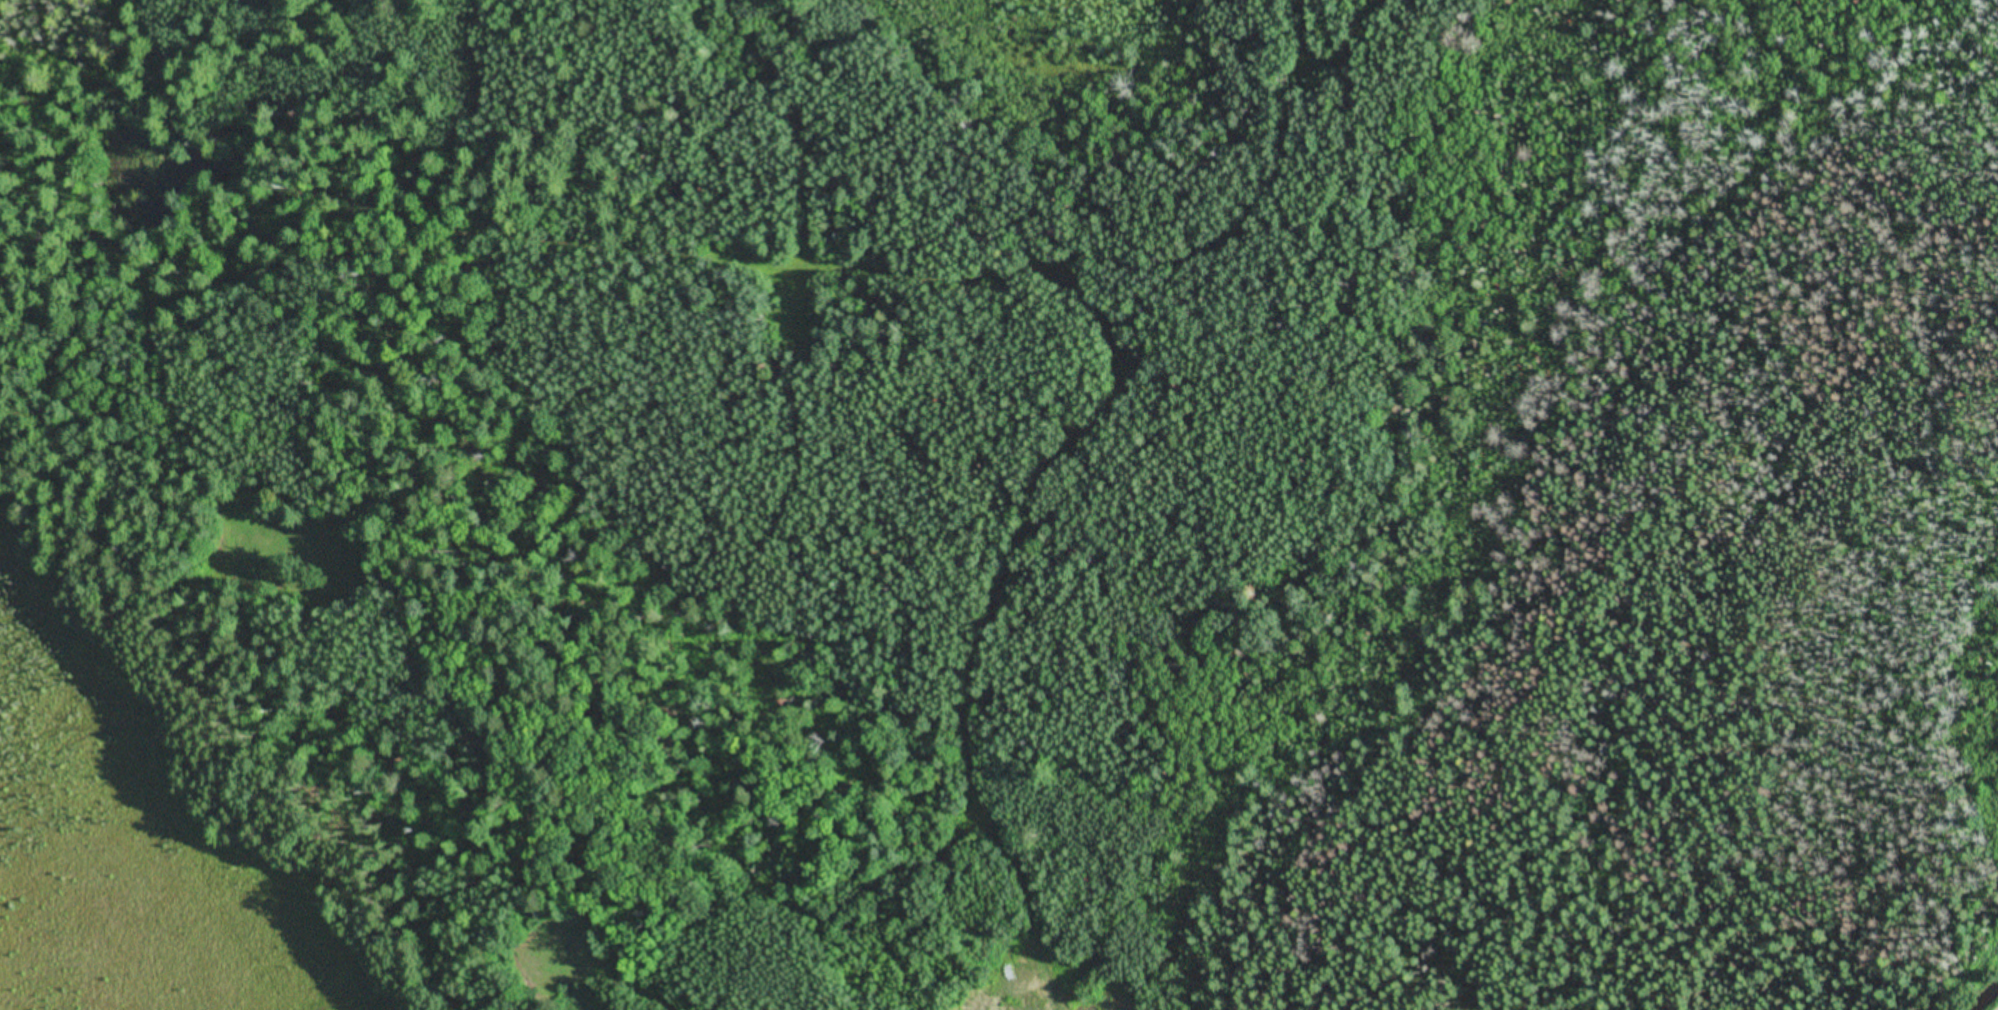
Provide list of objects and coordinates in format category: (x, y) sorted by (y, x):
crop: (1984, 995)

